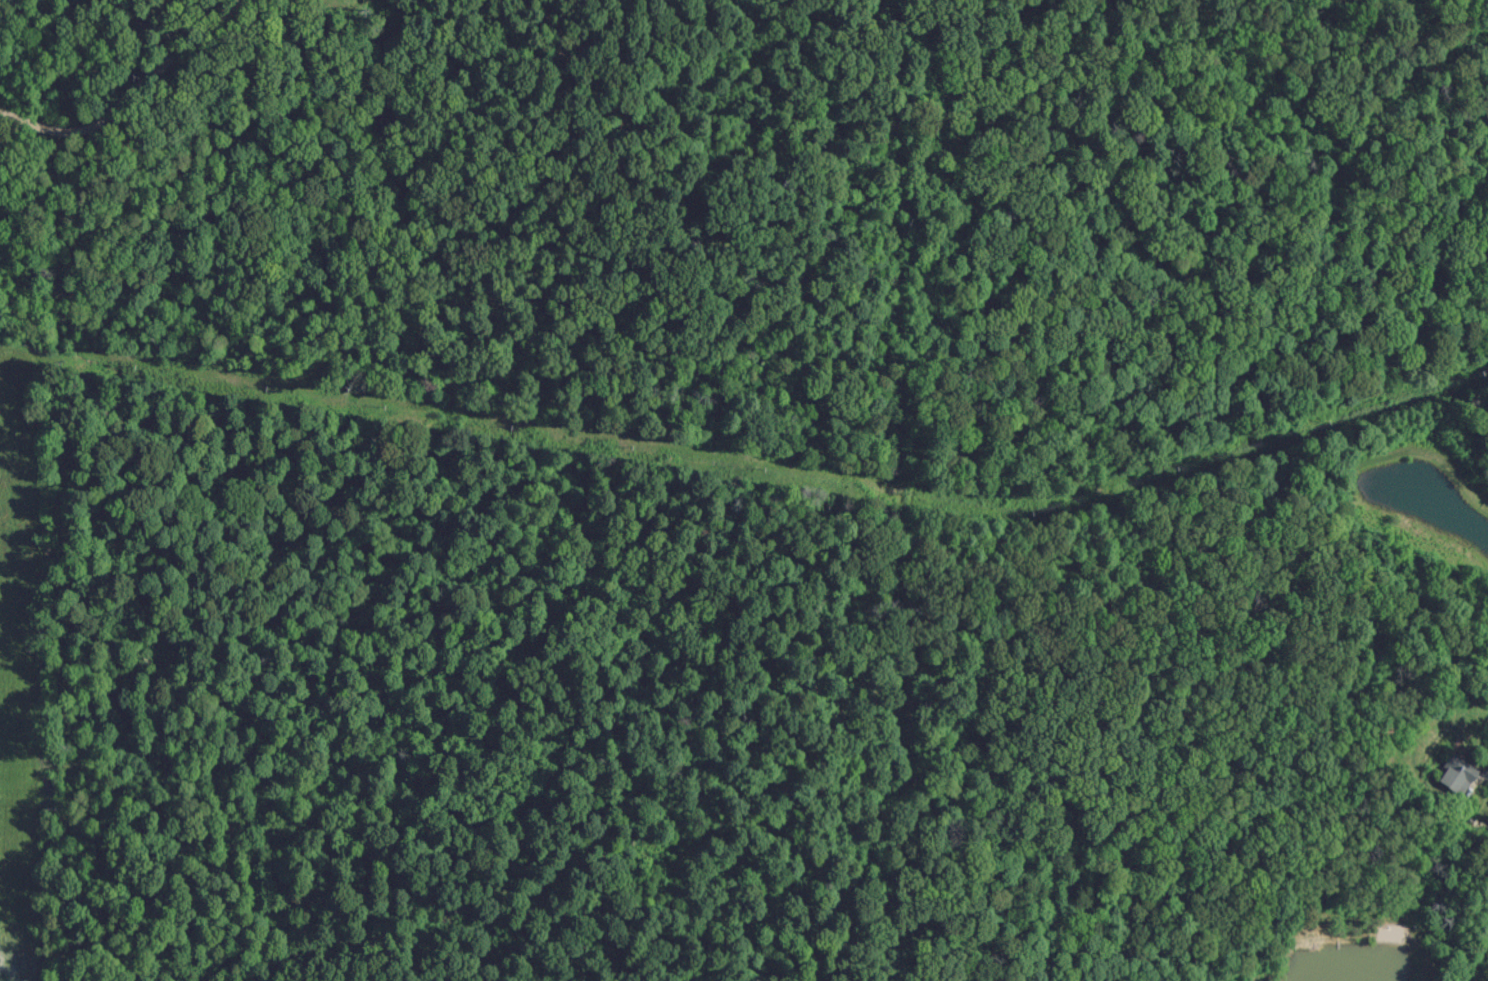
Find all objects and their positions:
road: (130, 96)
building: (1449, 778)
road: (1463, 805)

